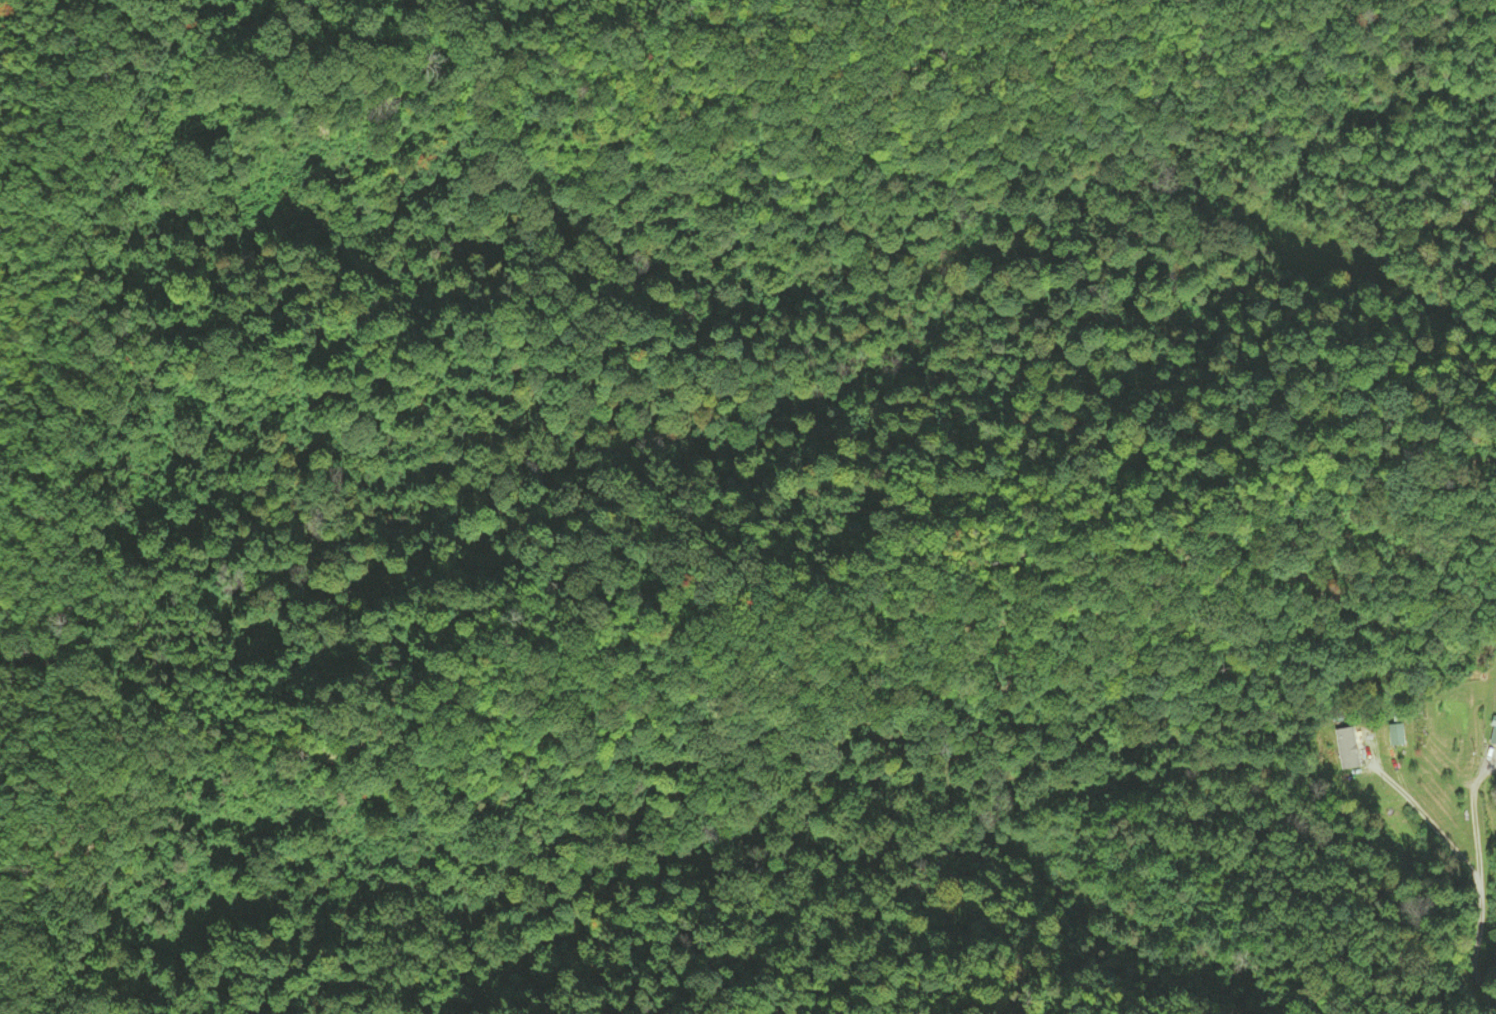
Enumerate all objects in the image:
building: (1396, 736)
building: (1493, 736)
road: (1478, 866)

